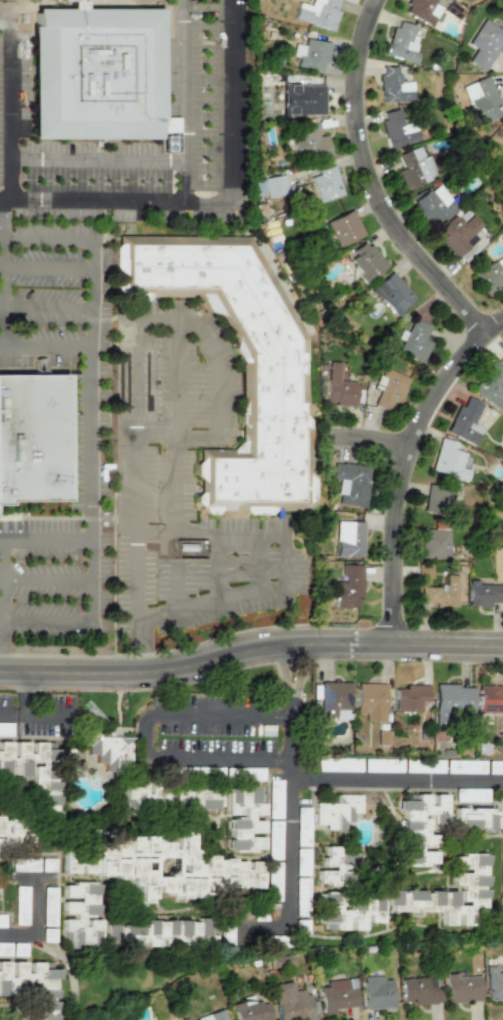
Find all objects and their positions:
building: (422, 10)
building: (317, 12)
building: (402, 42)
building: (484, 43)
building: (311, 54)
building: (95, 73)
building: (393, 86)
building: (302, 99)
building: (482, 100)
building: (398, 129)
building: (168, 142)
building: (309, 143)
road: (177, 155)
building: (414, 167)
road: (186, 178)
road: (368, 182)
building: (325, 184)
building: (269, 186)
road: (124, 202)
road: (7, 204)
building: (432, 204)
building: (343, 228)
building: (460, 237)
building: (365, 261)
road: (45, 269)
road: (1, 274)
building: (489, 277)
building: (392, 293)
road: (44, 305)
building: (124, 334)
building: (413, 340)
road: (44, 344)
road: (89, 346)
building: (502, 358)
building: (273, 373)
road: (175, 380)
building: (491, 385)
building: (338, 386)
building: (389, 389)
road: (221, 394)
building: (465, 420)
road: (361, 433)
road: (157, 437)
building: (33, 438)
building: (448, 460)
road: (395, 461)
building: (350, 482)
building: (438, 498)
road: (158, 529)
building: (348, 539)
road: (44, 543)
building: (434, 543)
road: (258, 561)
road: (217, 566)
road: (44, 579)
building: (348, 586)
building: (440, 593)
building: (484, 593)
road: (83, 621)
road: (250, 649)
road: (281, 670)
road: (304, 670)
building: (409, 697)
building: (334, 699)
building: (490, 699)
building: (371, 701)
building: (450, 702)
road: (290, 705)
road: (31, 710)
road: (16, 714)
road: (143, 738)
road: (288, 740)
building: (499, 743)
building: (110, 751)
building: (338, 765)
building: (383, 765)
building: (423, 766)
building: (464, 767)
building: (494, 767)
building: (34, 773)
building: (255, 773)
road: (398, 778)
building: (470, 795)
building: (169, 796)
building: (275, 799)
building: (337, 811)
building: (480, 817)
building: (244, 818)
building: (303, 827)
building: (419, 827)
building: (14, 834)
building: (274, 840)
building: (302, 862)
building: (24, 865)
building: (47, 865)
building: (153, 866)
building: (336, 867)
road: (292, 869)
building: (246, 875)
building: (274, 885)
building: (449, 895)
building: (301, 897)
building: (502, 901)
building: (21, 905)
building: (49, 906)
building: (347, 911)
building: (80, 914)
building: (2, 921)
road: (35, 924)
building: (162, 934)
building: (49, 935)
building: (5, 948)
road: (70, 968)
building: (493, 983)
building: (31, 985)
building: (461, 987)
building: (419, 991)
building: (376, 992)
building: (337, 994)
building: (289, 1001)
building: (250, 1010)
building: (212, 1016)

